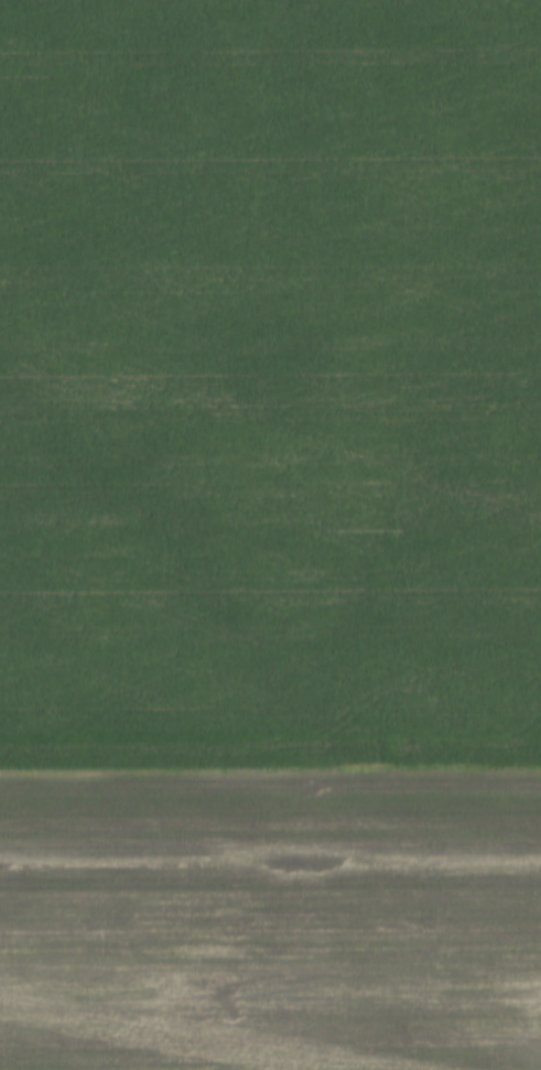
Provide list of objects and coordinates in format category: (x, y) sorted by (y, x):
road: (270, 771)

